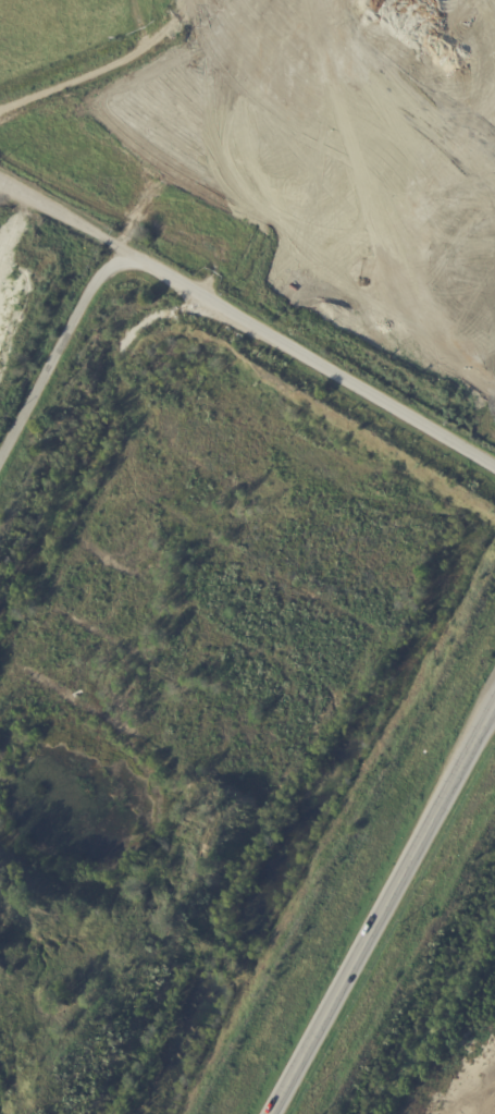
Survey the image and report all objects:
road: (109, 62)
road: (71, 221)
road: (209, 297)
road: (384, 909)

